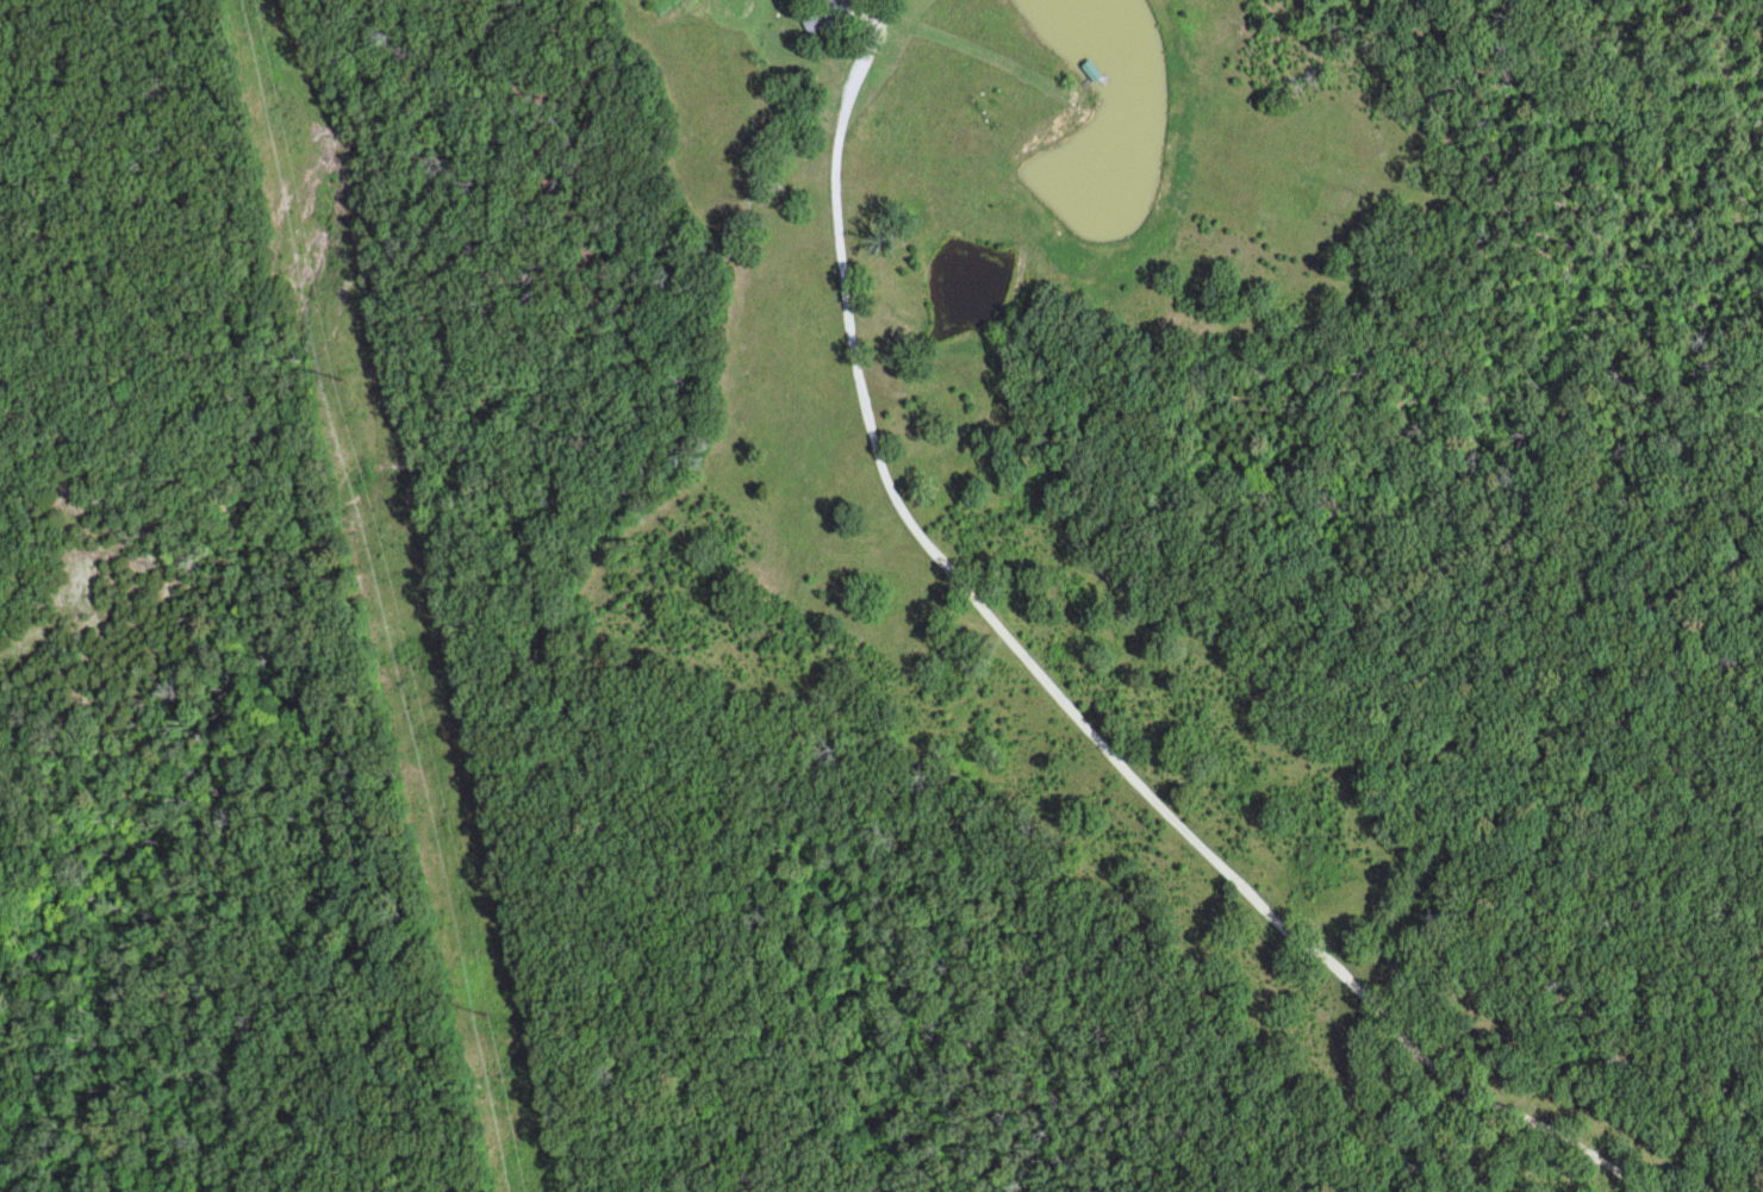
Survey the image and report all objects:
building: (824, 17)
road: (1337, 980)

